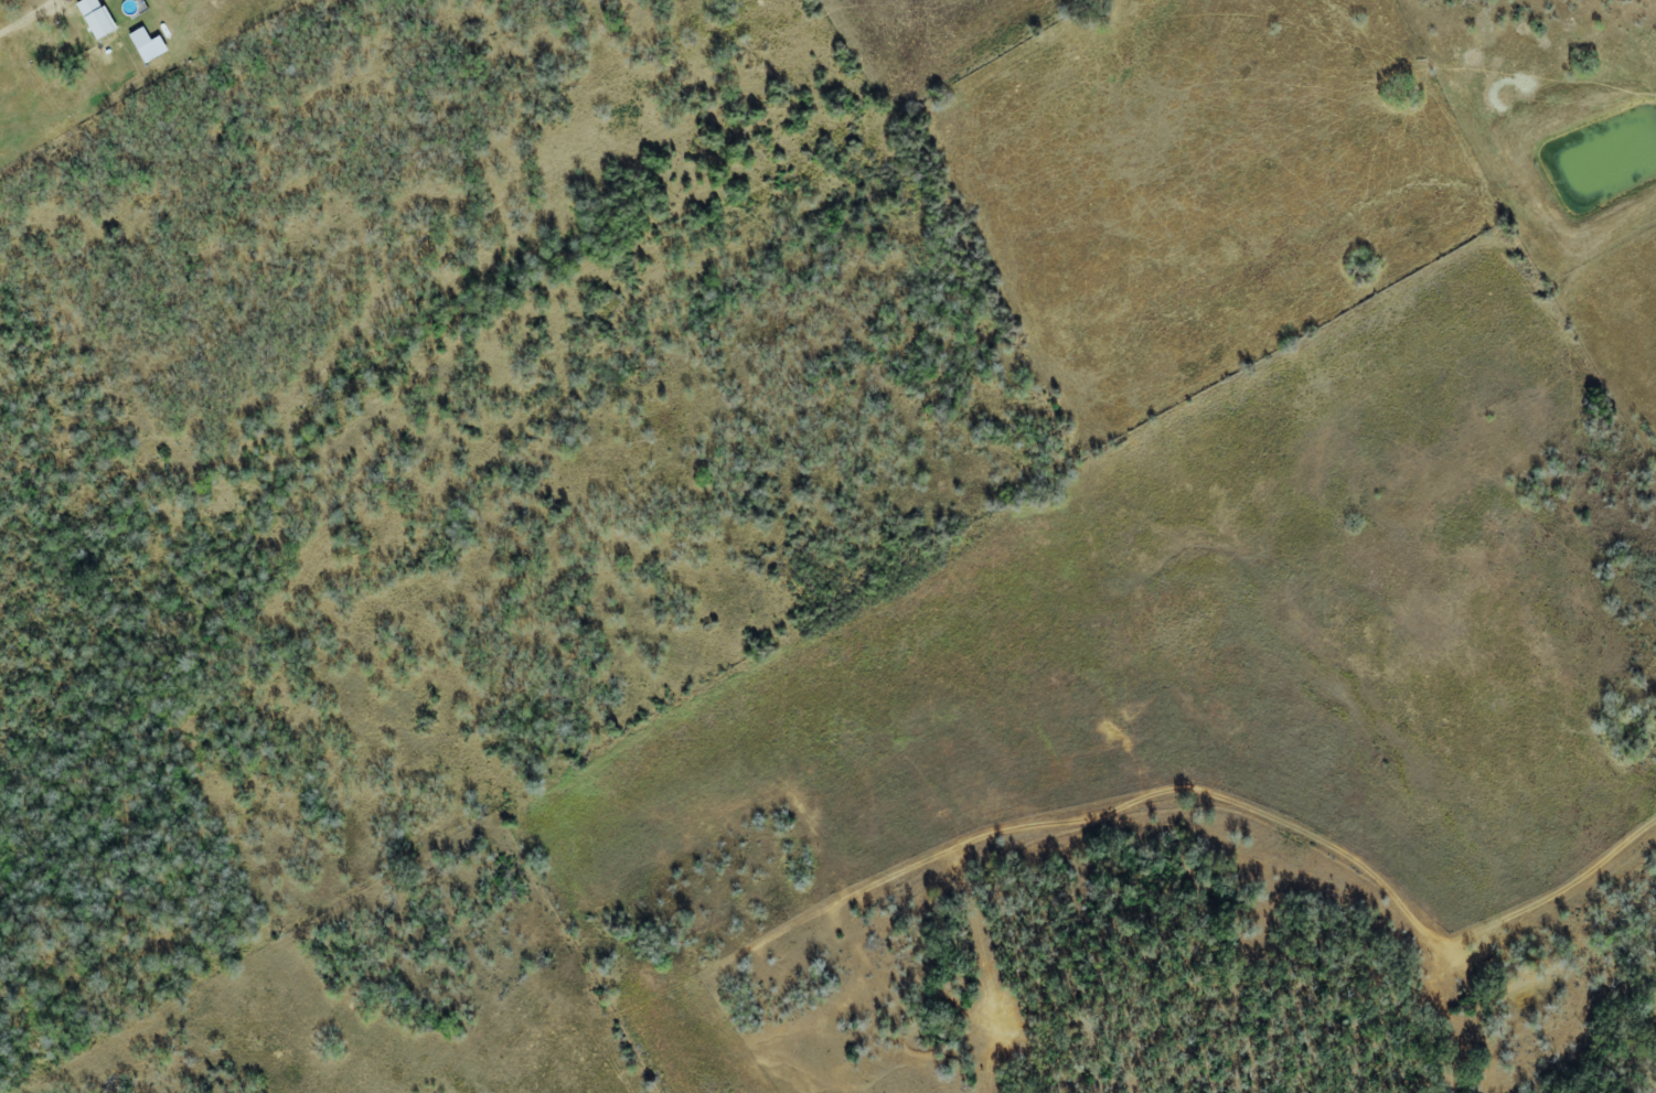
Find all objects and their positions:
road: (29, 17)
building: (95, 17)
building: (146, 45)

